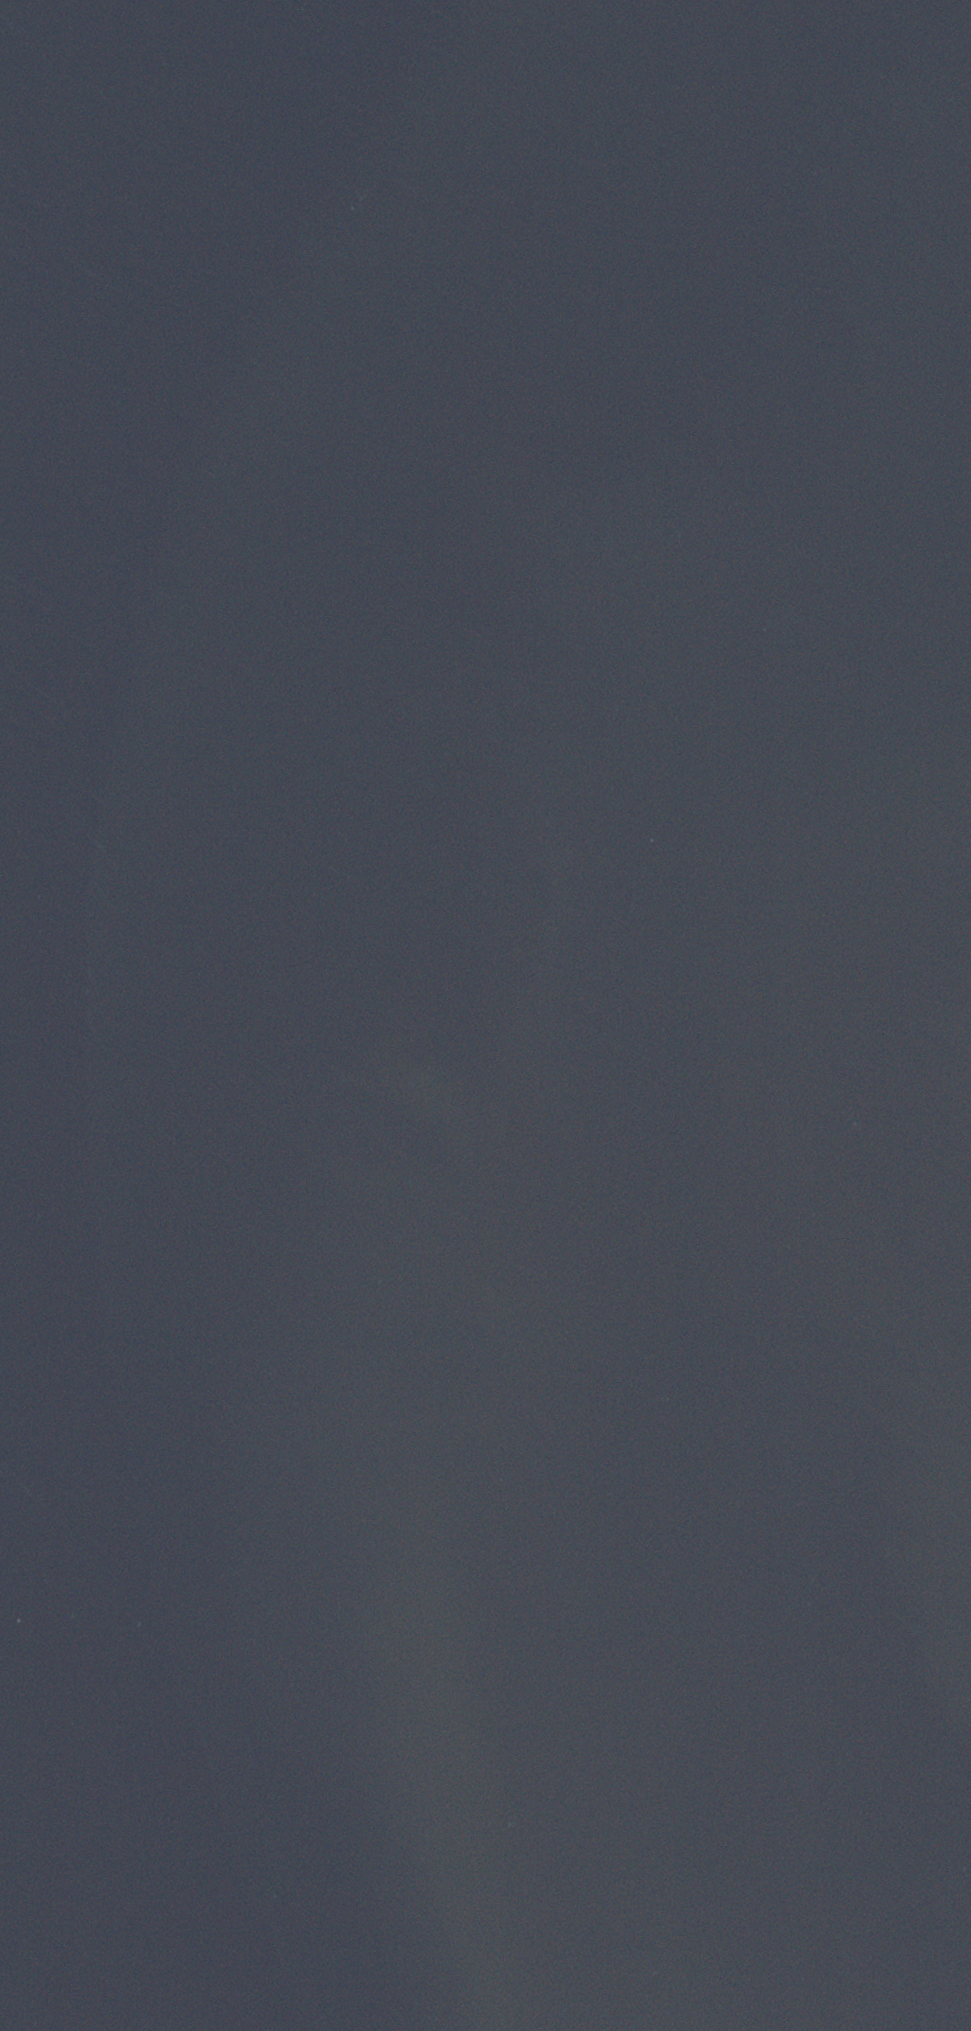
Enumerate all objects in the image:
river: (26, 1857)

